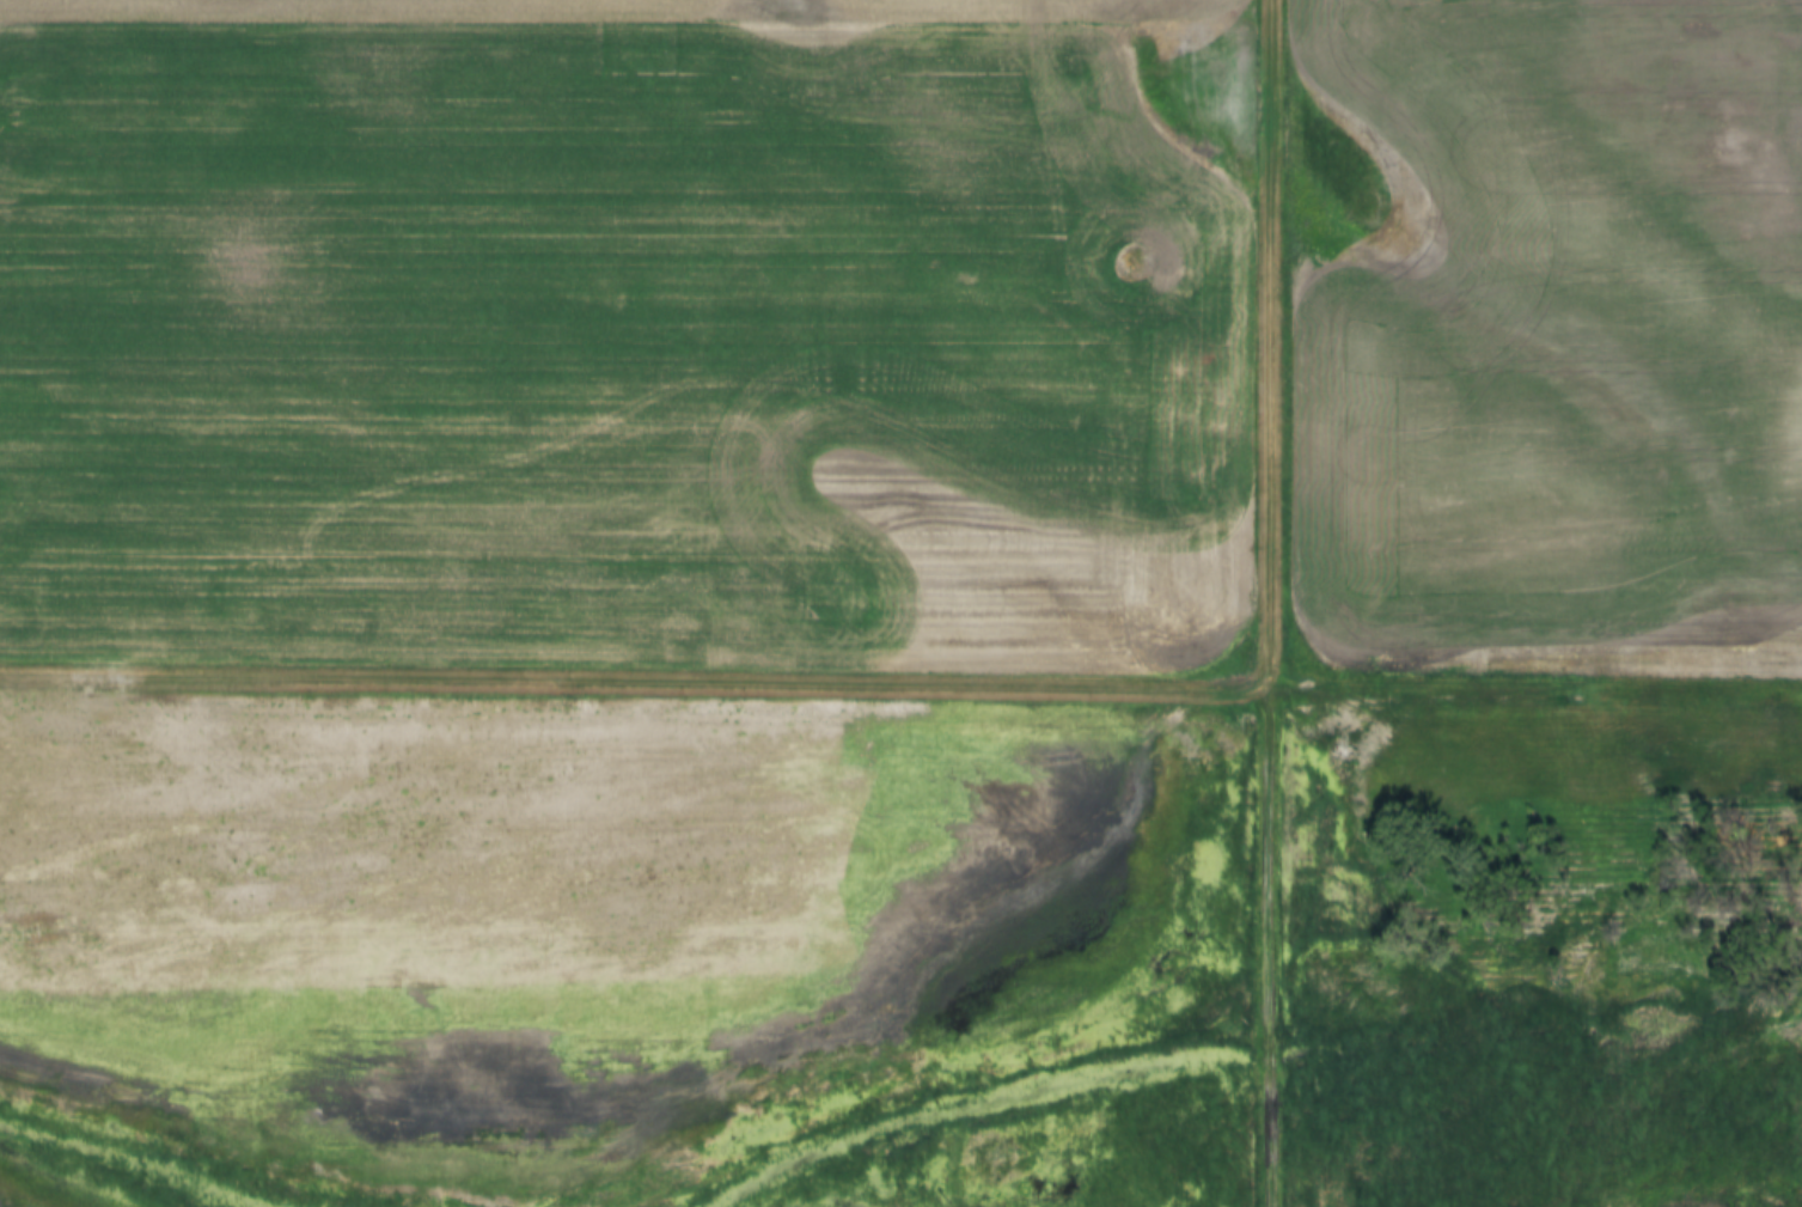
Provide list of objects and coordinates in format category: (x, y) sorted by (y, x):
road: (1267, 603)
road: (634, 682)

